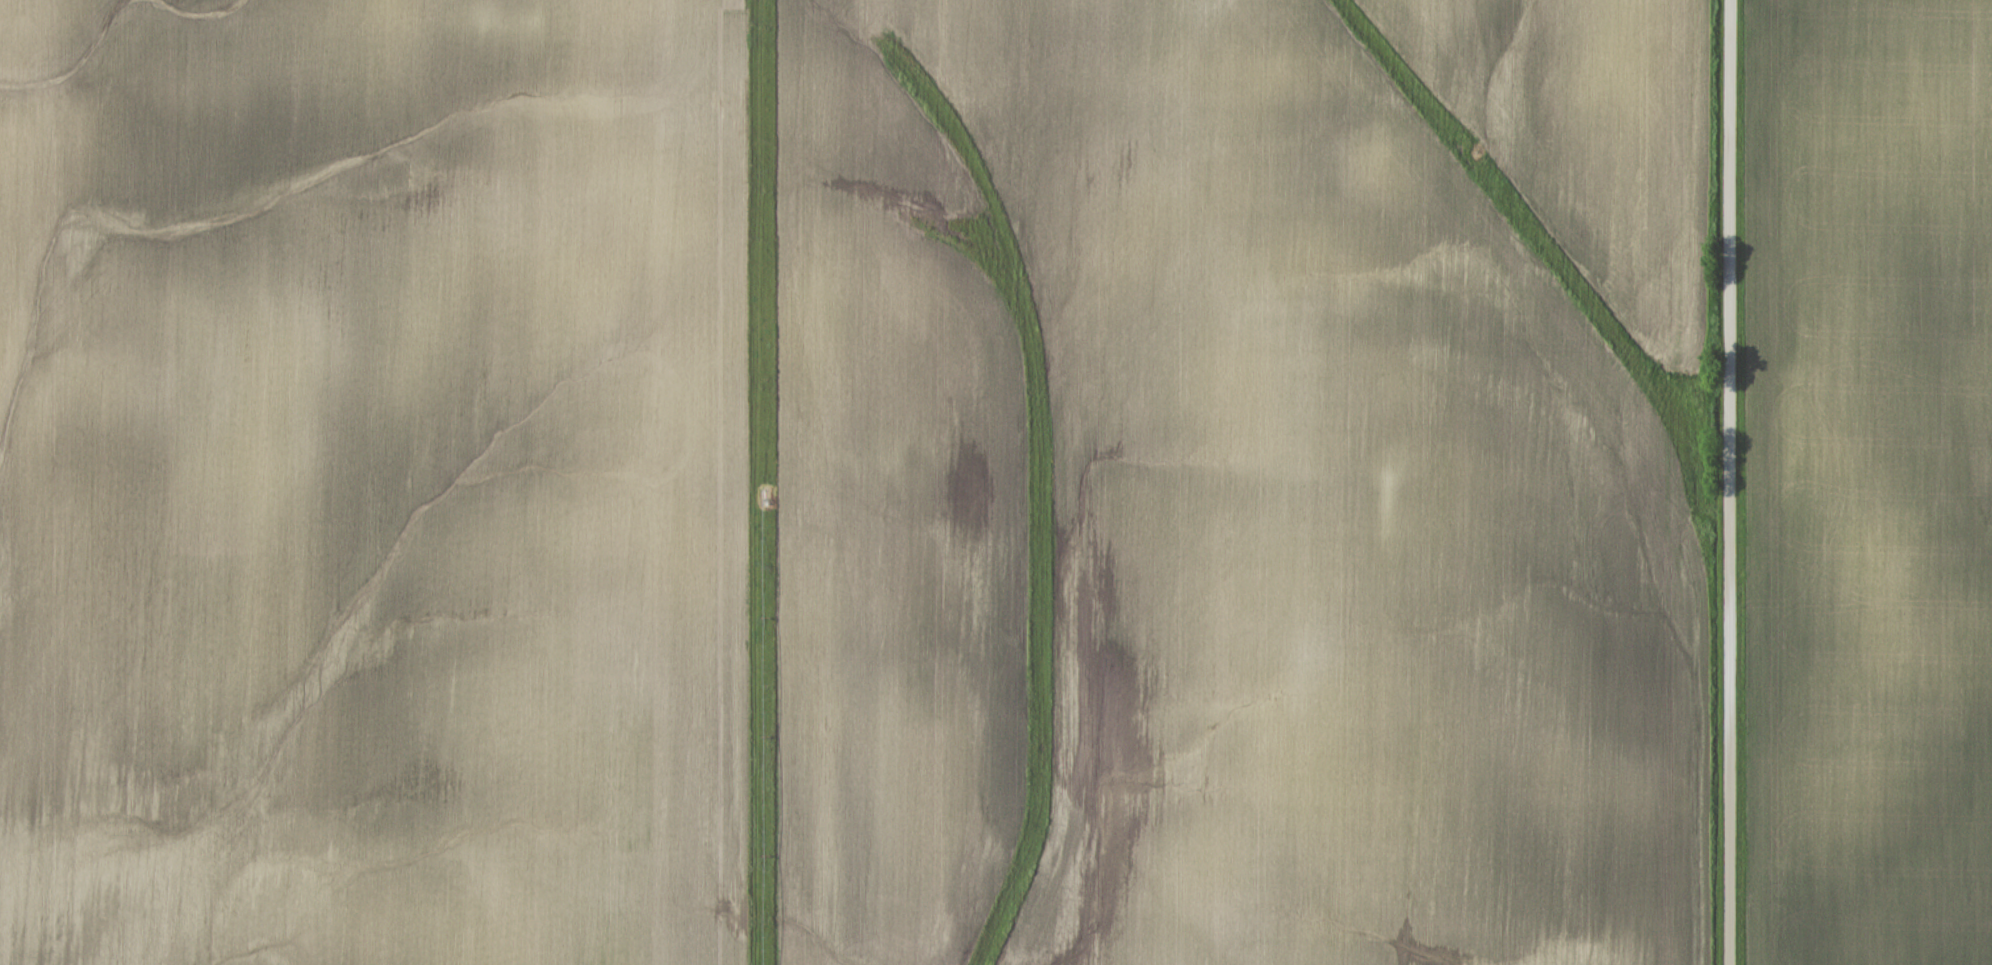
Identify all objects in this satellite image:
road: (1734, 482)

